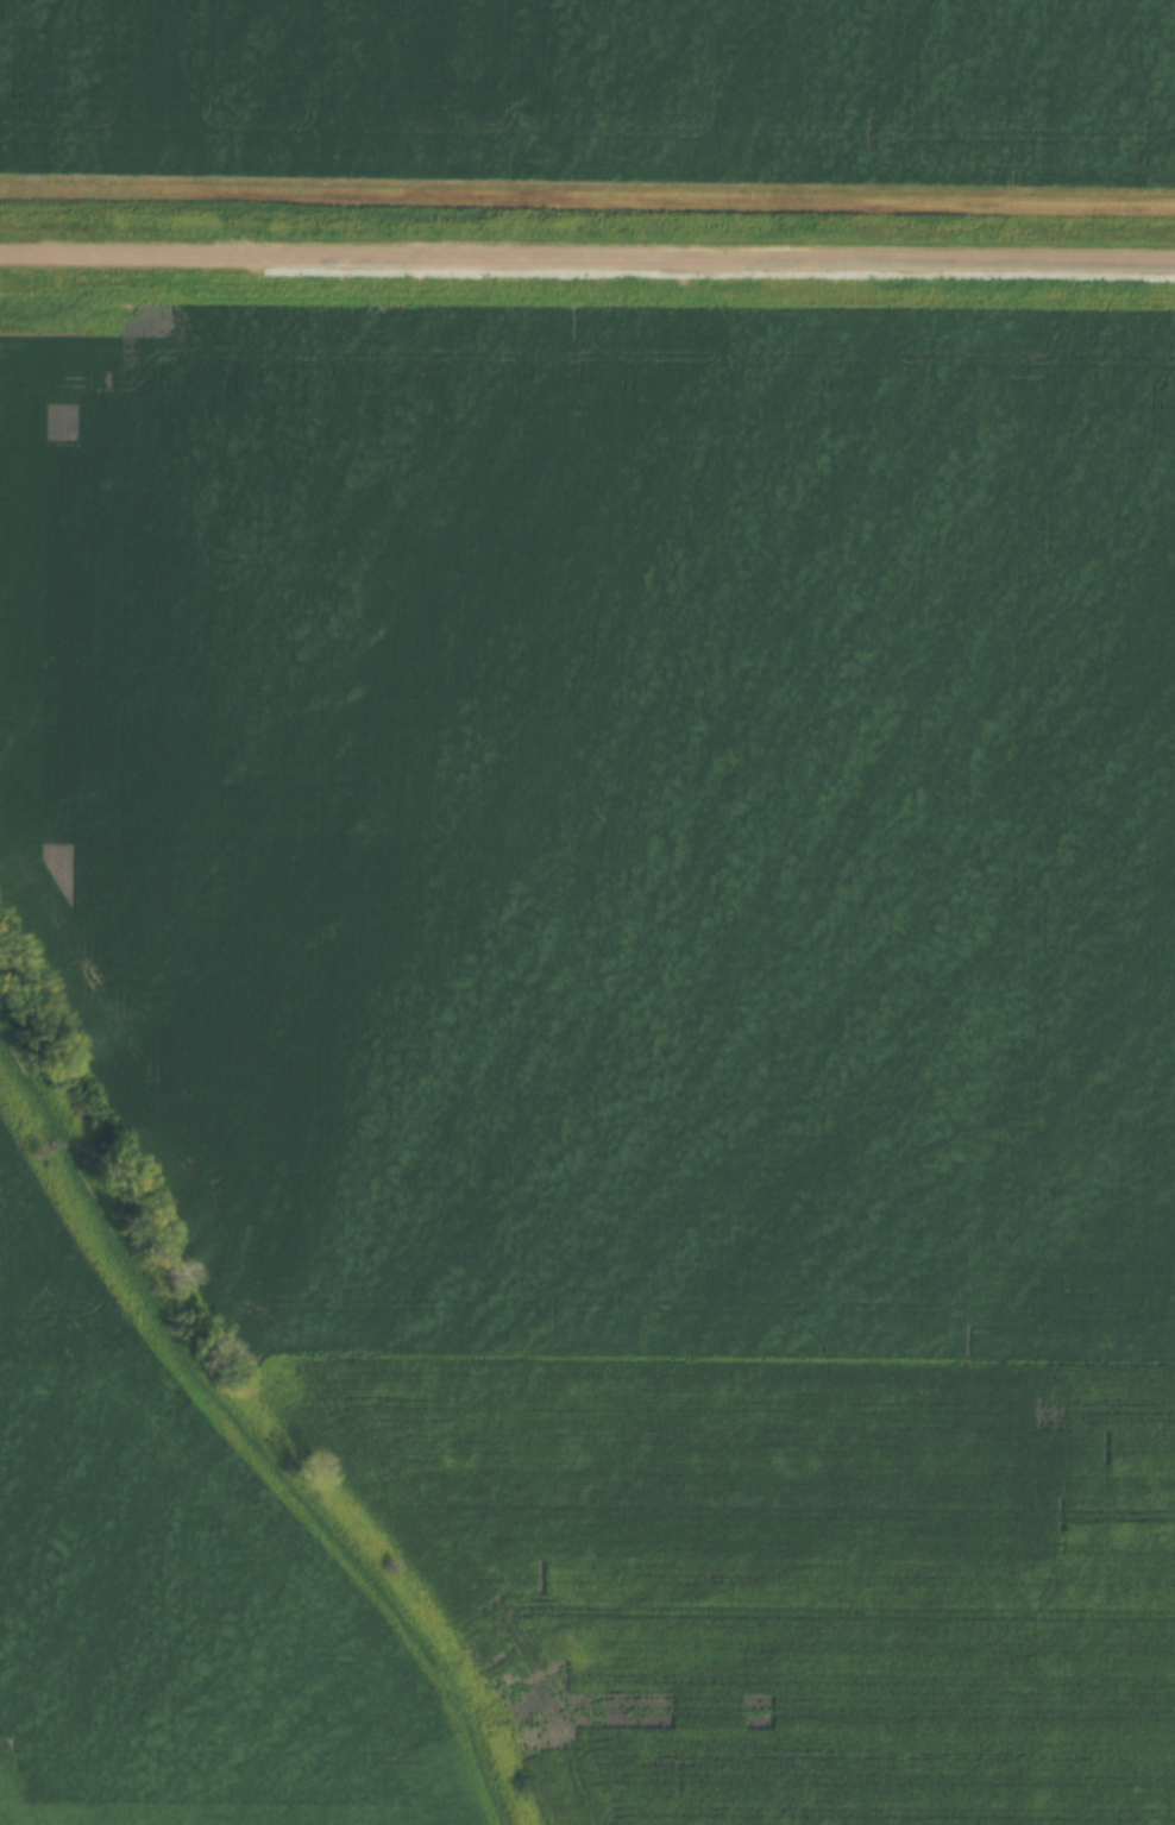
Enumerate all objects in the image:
road: (587, 258)

